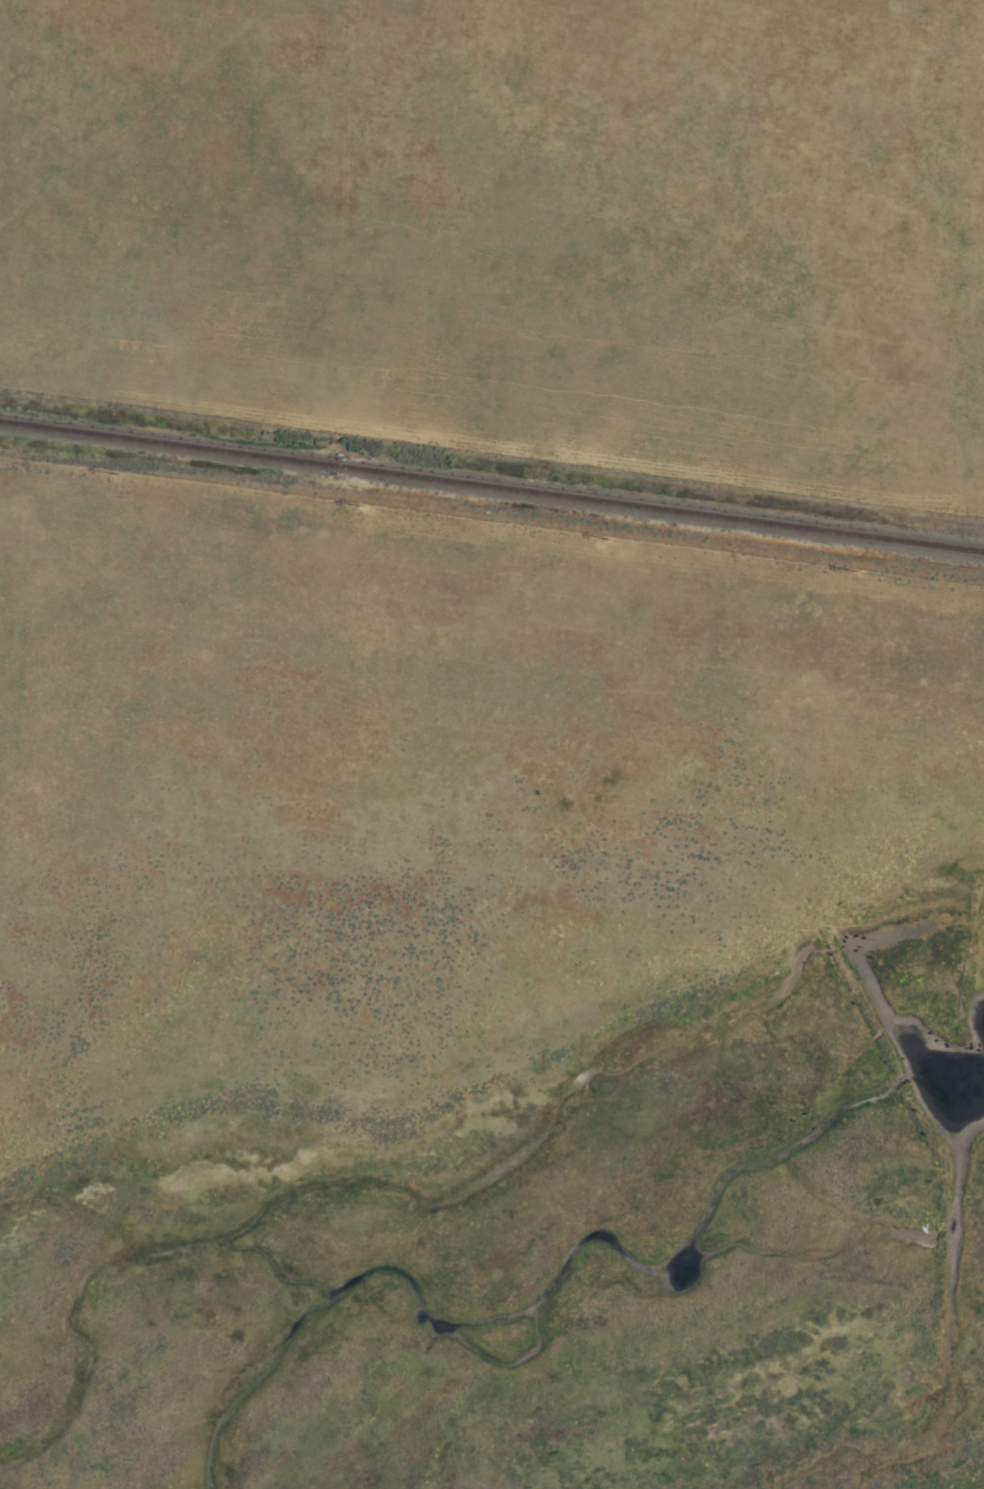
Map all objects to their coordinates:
railway: (492, 485)
crop: (492, 744)

